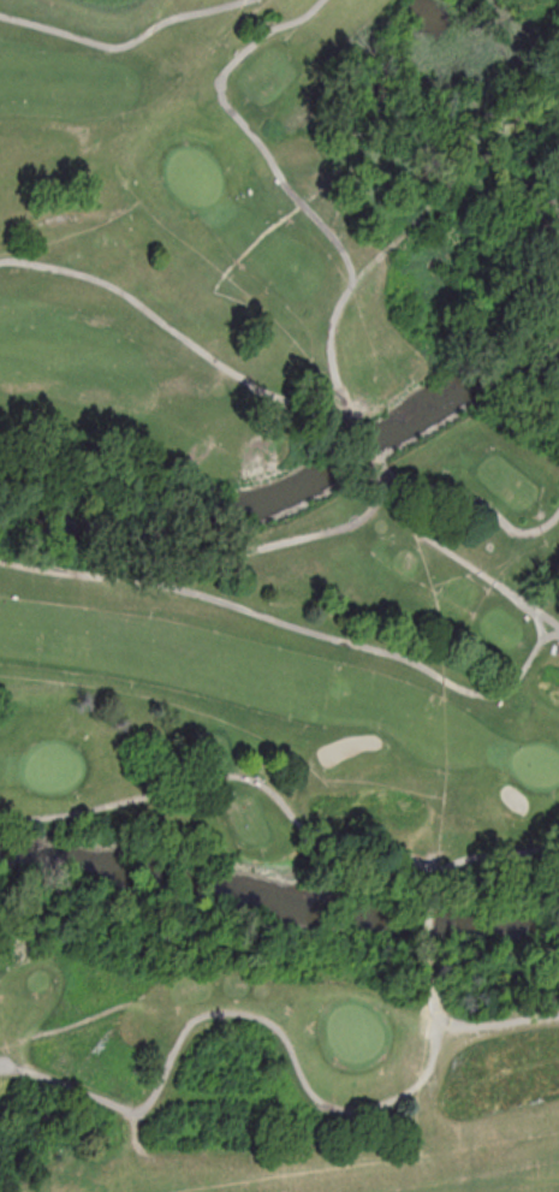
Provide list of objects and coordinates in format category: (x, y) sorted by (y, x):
road: (124, 43)
road: (454, 176)
road: (290, 190)
road: (178, 333)
road: (365, 446)
river: (293, 490)
road: (363, 514)
road: (456, 557)
park: (279, 595)
road: (536, 619)
road: (296, 627)
road: (230, 773)
road: (484, 854)
river: (278, 903)
road: (426, 920)
road: (237, 1013)
road: (464, 1021)

